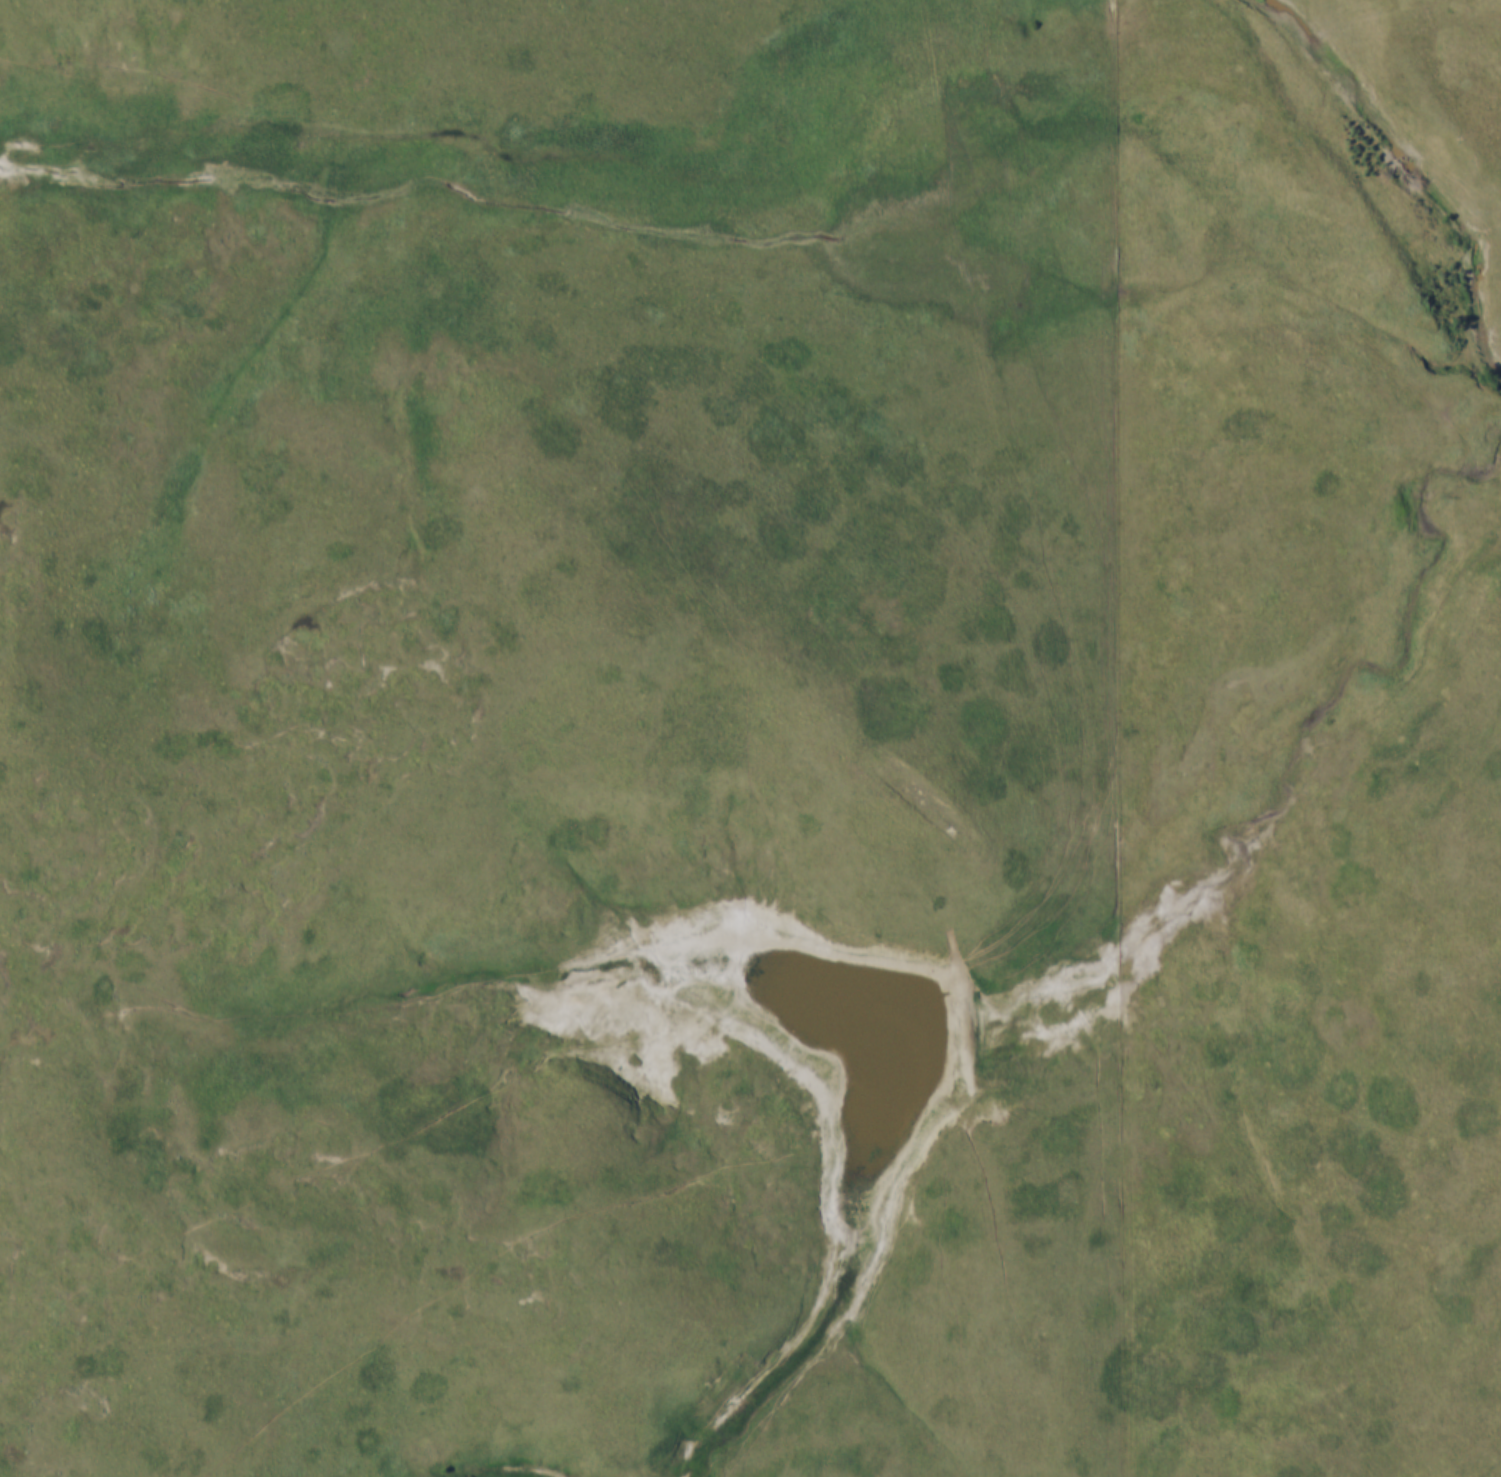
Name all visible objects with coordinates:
road: (1122, 738)

